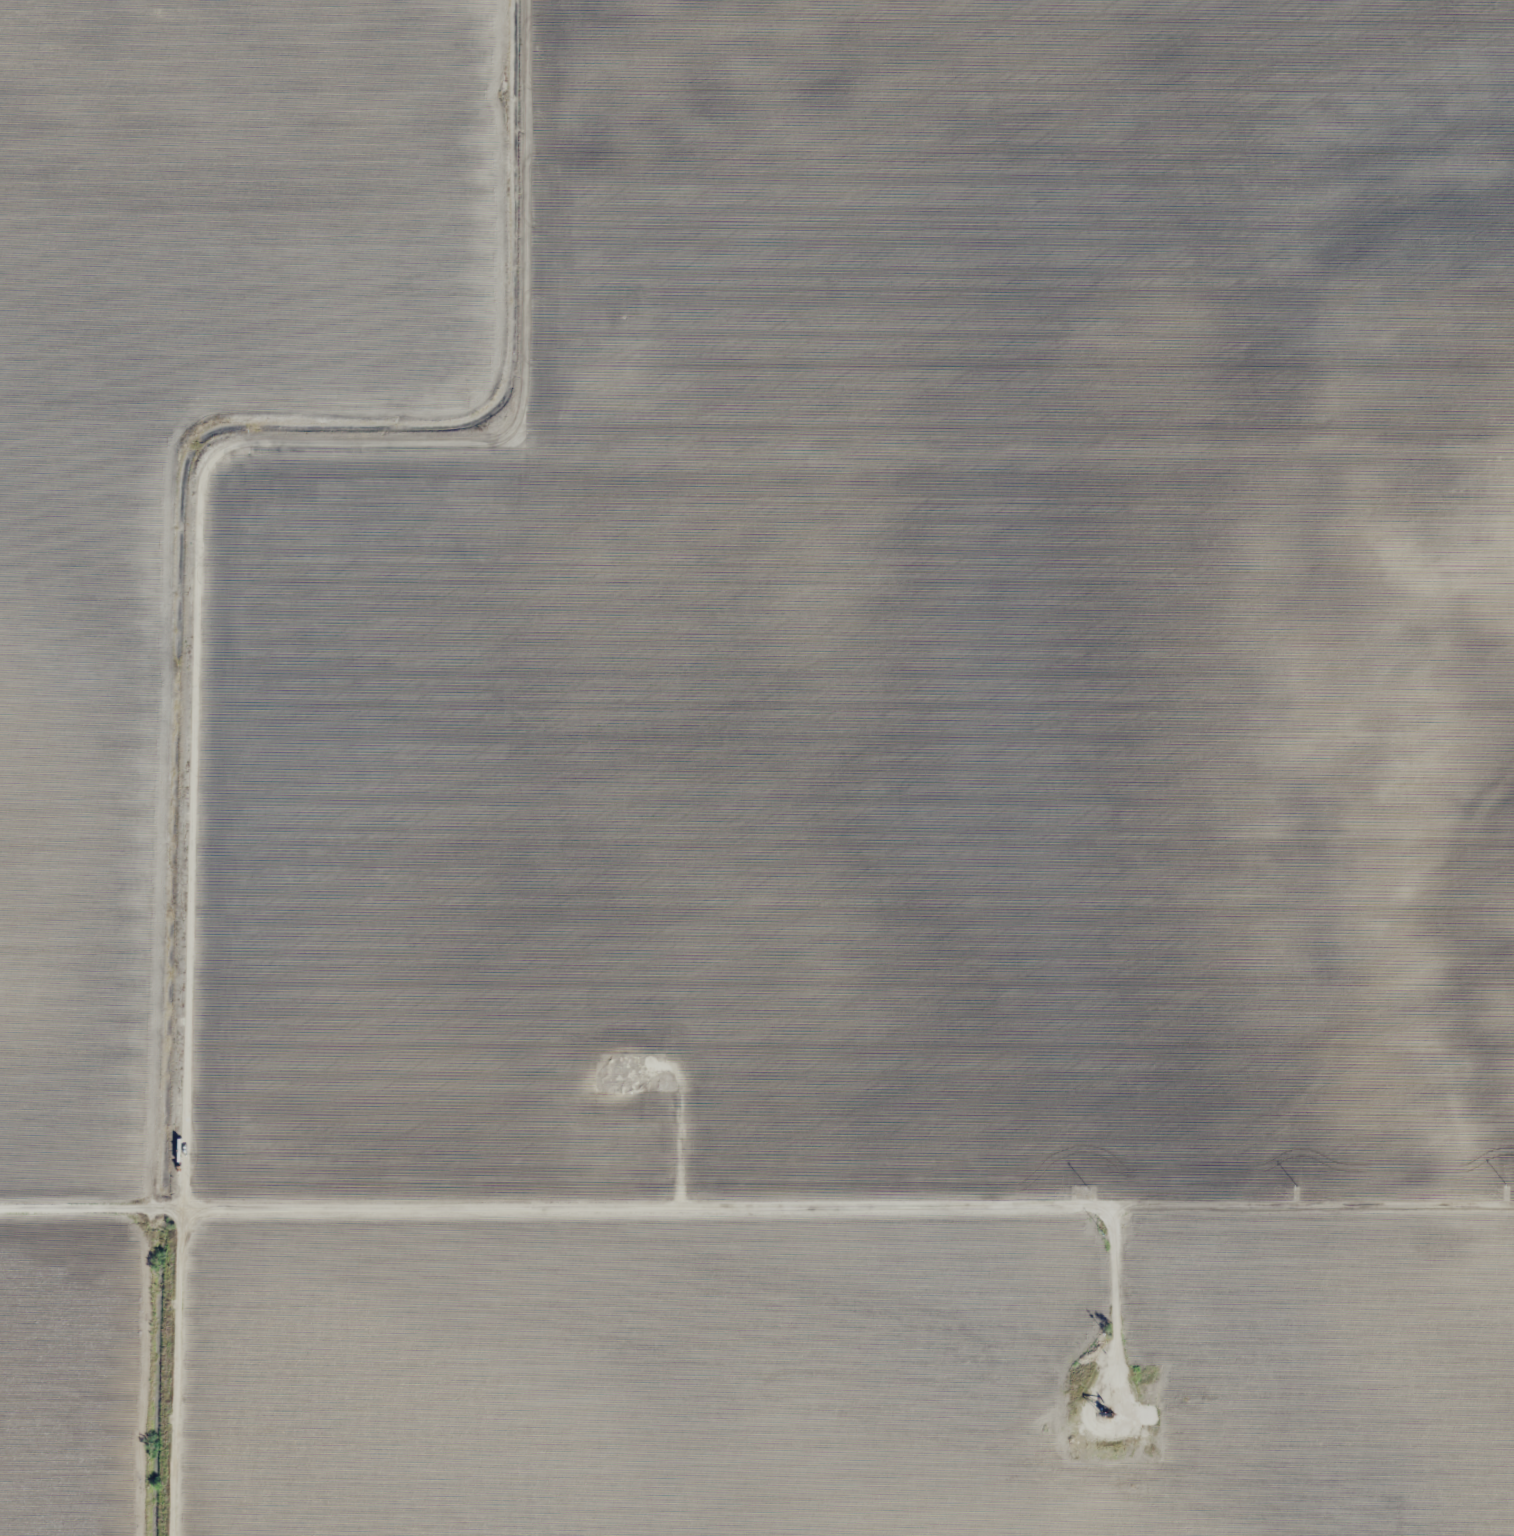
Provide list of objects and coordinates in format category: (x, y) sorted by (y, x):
road: (512, 224)
road: (164, 827)
road: (757, 1207)

